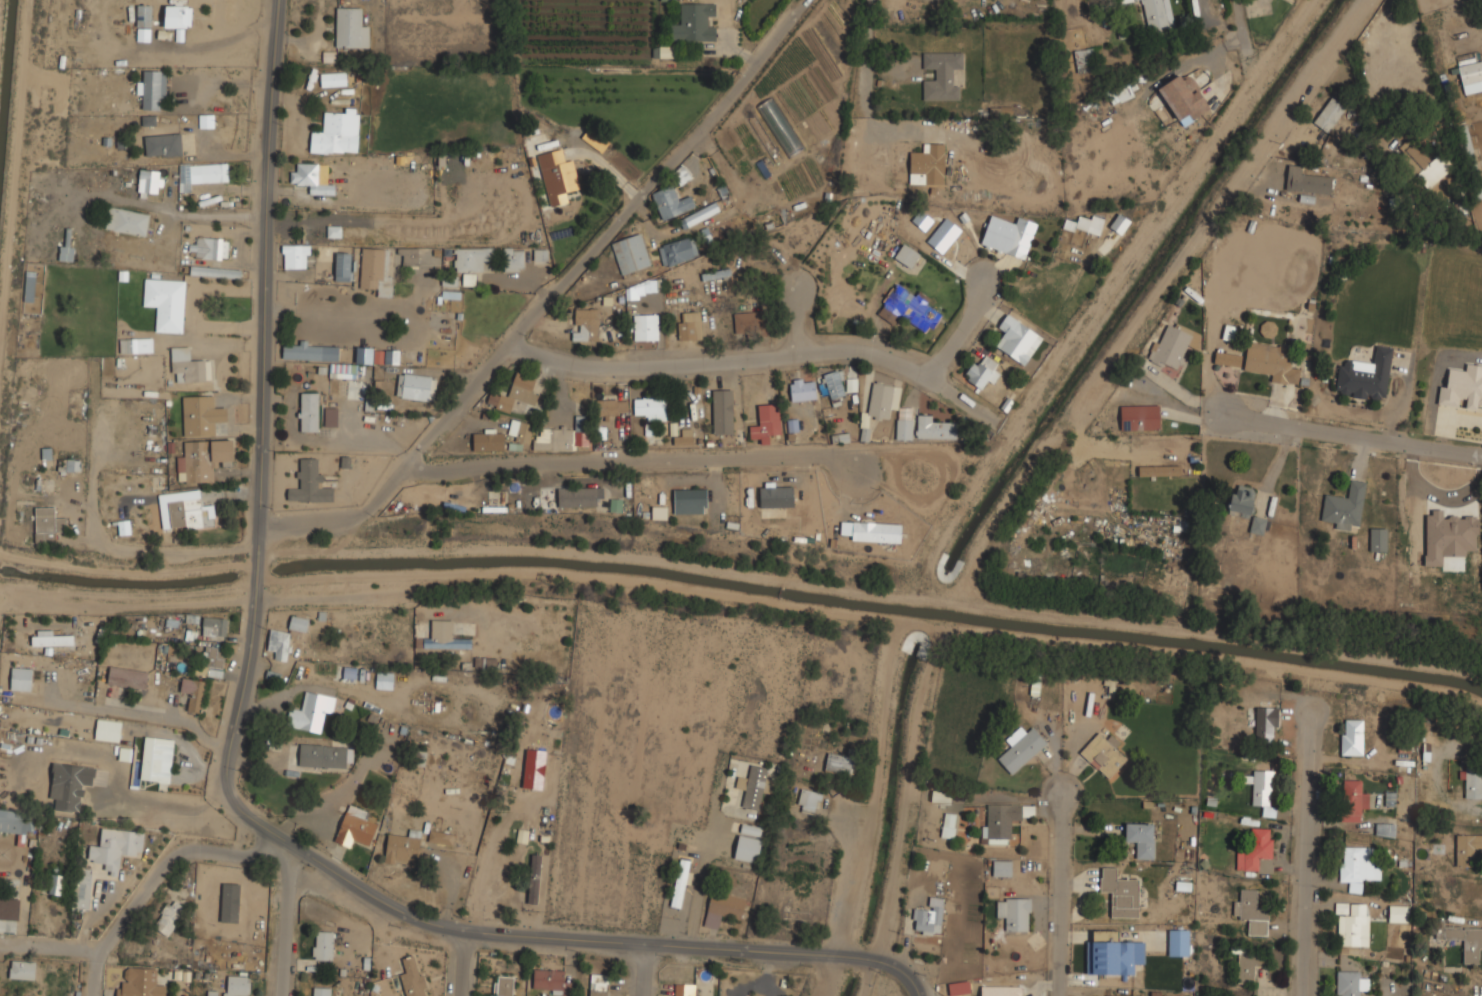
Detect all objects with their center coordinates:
building: (667, 0)
building: (1127, 0)
road: (1240, 3)
building: (144, 15)
building: (178, 15)
building: (1156, 16)
building: (694, 23)
road: (1245, 25)
building: (350, 28)
building: (143, 34)
road: (1463, 36)
building: (1085, 59)
building: (942, 75)
building: (1471, 77)
building: (333, 78)
building: (153, 90)
building: (1184, 96)
building: (1000, 111)
building: (1328, 114)
building: (337, 132)
building: (163, 144)
building: (1465, 148)
building: (928, 163)
building: (1424, 164)
building: (201, 174)
building: (558, 175)
road: (1246, 175)
building: (681, 176)
building: (310, 178)
building: (150, 181)
building: (1306, 181)
building: (671, 202)
building: (689, 219)
building: (127, 221)
building: (1089, 223)
building: (1120, 223)
building: (1007, 237)
building: (958, 239)
building: (209, 247)
building: (677, 251)
building: (65, 253)
building: (631, 253)
building: (538, 254)
building: (296, 255)
building: (907, 255)
building: (409, 256)
building: (472, 258)
building: (513, 259)
road: (265, 262)
building: (343, 266)
building: (377, 269)
building: (214, 271)
building: (716, 274)
building: (468, 279)
road: (549, 295)
building: (165, 303)
building: (909, 307)
road: (793, 319)
building: (748, 321)
building: (586, 324)
building: (689, 325)
building: (646, 326)
road: (964, 327)
building: (1269, 329)
building: (1017, 339)
building: (135, 344)
building: (1172, 346)
building: (318, 355)
building: (365, 355)
road: (762, 357)
building: (1228, 358)
building: (1272, 362)
building: (188, 366)
building: (982, 371)
building: (1365, 376)
building: (416, 386)
building: (834, 387)
building: (1463, 387)
building: (803, 388)
building: (515, 392)
building: (878, 402)
building: (611, 405)
building: (650, 408)
building: (308, 411)
building: (723, 411)
building: (202, 415)
building: (330, 417)
building: (1141, 417)
building: (766, 423)
building: (905, 423)
building: (935, 427)
building: (520, 430)
road: (1354, 434)
building: (562, 436)
building: (683, 437)
building: (488, 440)
building: (202, 459)
road: (638, 460)
building: (67, 465)
building: (1158, 470)
building: (310, 483)
building: (776, 495)
building: (580, 496)
building: (1242, 500)
building: (690, 501)
building: (1344, 506)
building: (185, 510)
building: (658, 513)
building: (47, 524)
building: (1258, 525)
building: (871, 530)
building: (1448, 535)
building: (1378, 540)
road: (149, 550)
road: (256, 561)
road: (139, 599)
building: (299, 624)
building: (215, 626)
building: (444, 635)
building: (51, 638)
building: (279, 645)
building: (212, 661)
building: (127, 677)
building: (21, 678)
building: (384, 680)
building: (194, 693)
building: (310, 711)
building: (1264, 720)
building: (1352, 736)
building: (1021, 747)
building: (1105, 754)
building: (322, 755)
building: (151, 758)
building: (839, 763)
street lamp: (237, 770)
building: (1474, 783)
building: (23, 784)
building: (69, 785)
building: (753, 787)
building: (1264, 788)
road: (337, 794)
road: (544, 795)
building: (1351, 800)
building: (808, 801)
road: (505, 816)
building: (17, 821)
building: (1003, 821)
building: (949, 825)
building: (355, 827)
building: (1385, 828)
building: (521, 836)
building: (441, 837)
building: (1141, 838)
building: (116, 846)
building: (403, 848)
building: (747, 848)
building: (798, 848)
building: (1468, 848)
building: (1257, 851)
road: (1307, 853)
road: (512, 854)
road: (303, 862)
building: (1359, 865)
building: (1002, 868)
road: (158, 878)
building: (534, 878)
building: (55, 884)
building: (82, 887)
road: (1061, 890)
building: (1120, 892)
building: (10, 908)
building: (724, 908)
building: (1014, 912)
building: (1252, 912)
building: (1400, 913)
building: (168, 917)
building: (929, 917)
building: (1351, 924)
road: (465, 926)
road: (282, 928)
building: (1464, 940)
building: (1179, 941)
building: (322, 945)
road: (48, 949)
building: (1115, 953)
road: (462, 961)
building: (1249, 964)
building: (23, 969)
road: (646, 969)
building: (412, 976)
building: (550, 980)
building: (140, 982)
building: (1351, 982)
building: (238, 985)
building: (502, 986)
building: (598, 986)
building: (959, 987)
building: (683, 989)
building: (1002, 990)
building: (320, 991)
building: (1119, 995)

